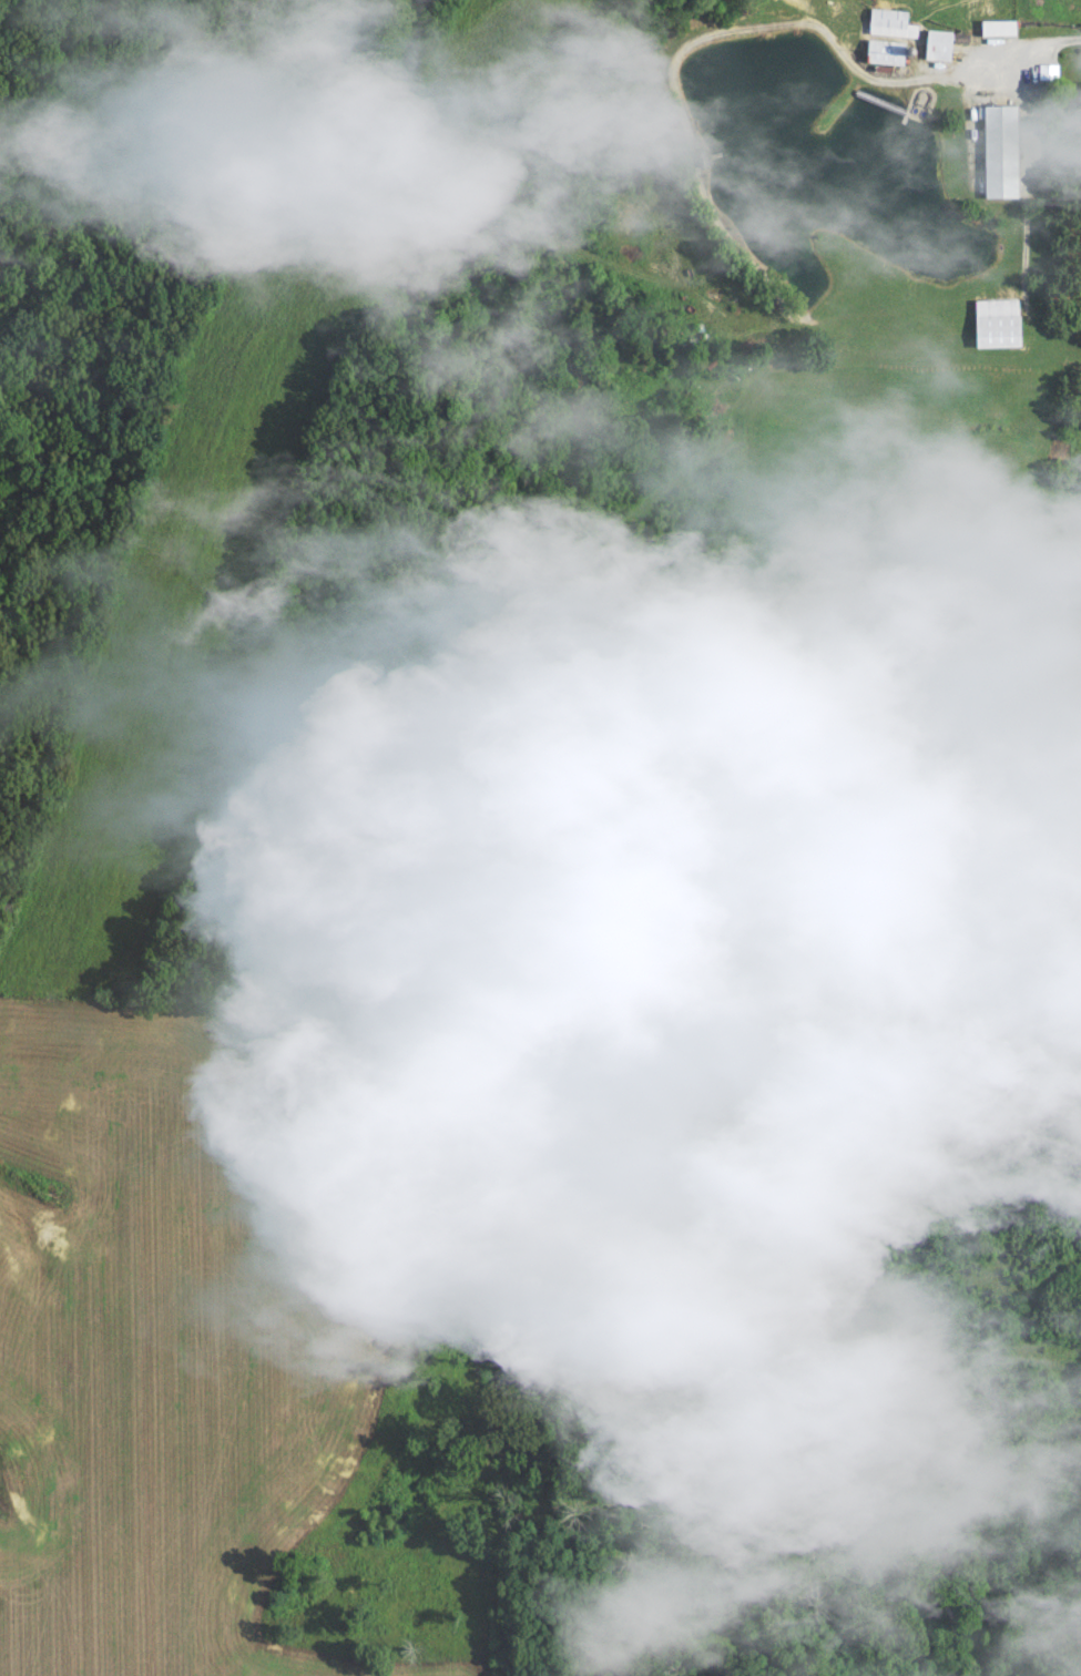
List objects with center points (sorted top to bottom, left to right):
building: (883, 29)
building: (989, 33)
road: (1030, 45)
building: (929, 50)
building: (879, 58)
building: (1071, 110)
building: (992, 156)

